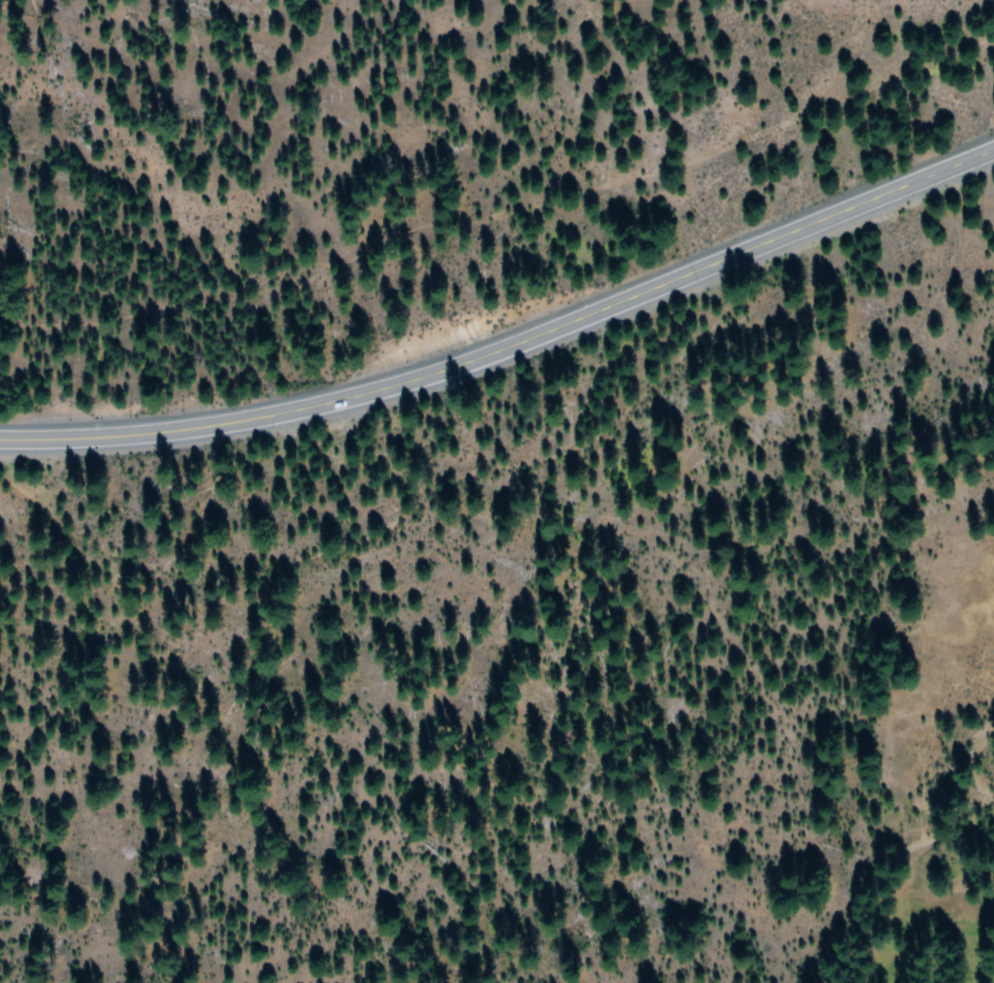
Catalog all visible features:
road: (510, 345)

